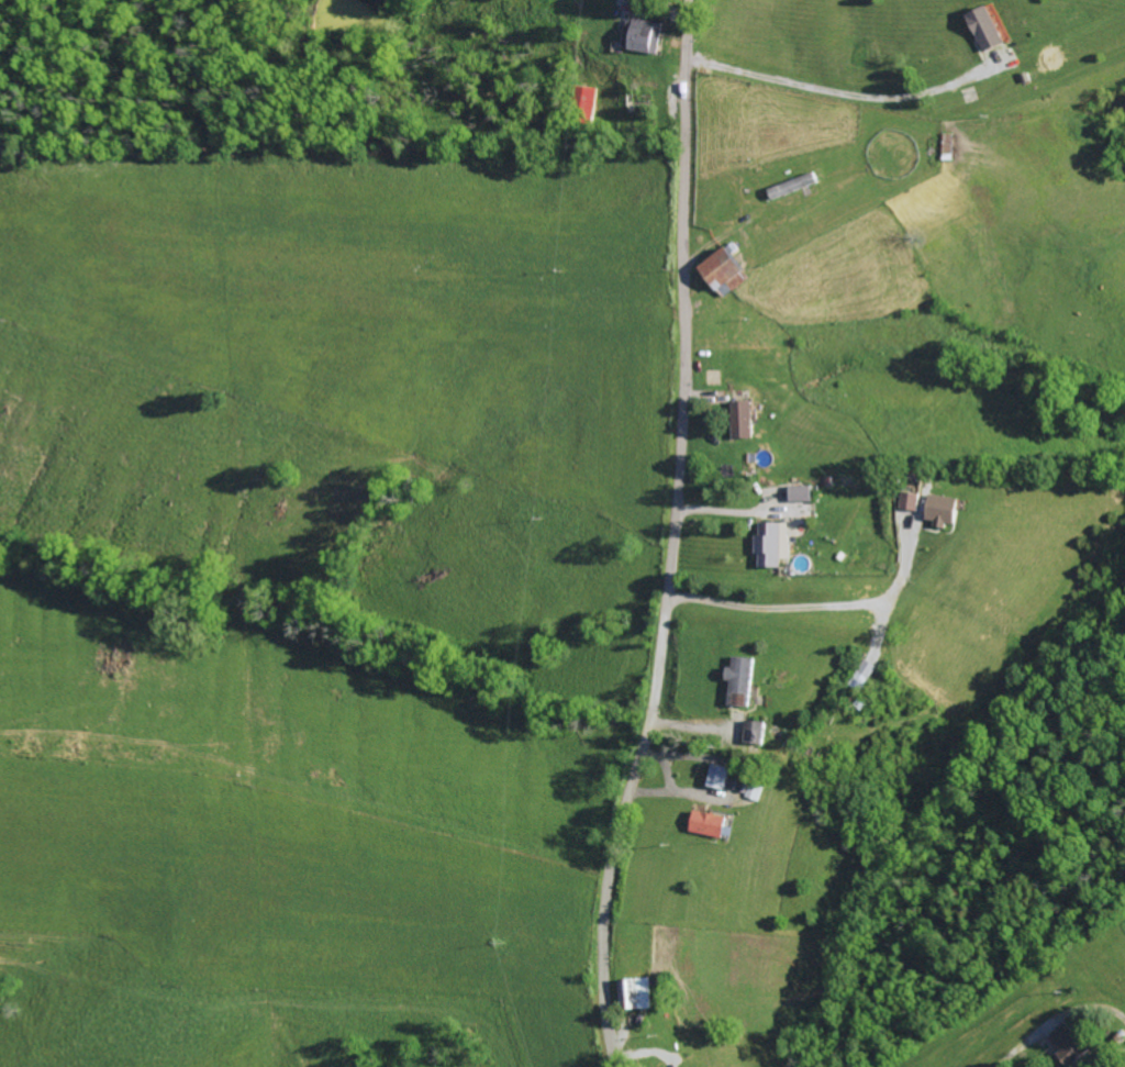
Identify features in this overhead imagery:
building: (988, 29)
building: (643, 35)
road: (834, 82)
building: (728, 271)
building: (745, 420)
building: (912, 501)
building: (946, 511)
road: (672, 536)
building: (776, 543)
road: (803, 607)
building: (740, 681)
building: (756, 733)
building: (720, 777)
building: (711, 824)
road: (723, 935)
building: (636, 993)
road: (1017, 1046)
building: (1072, 1046)

